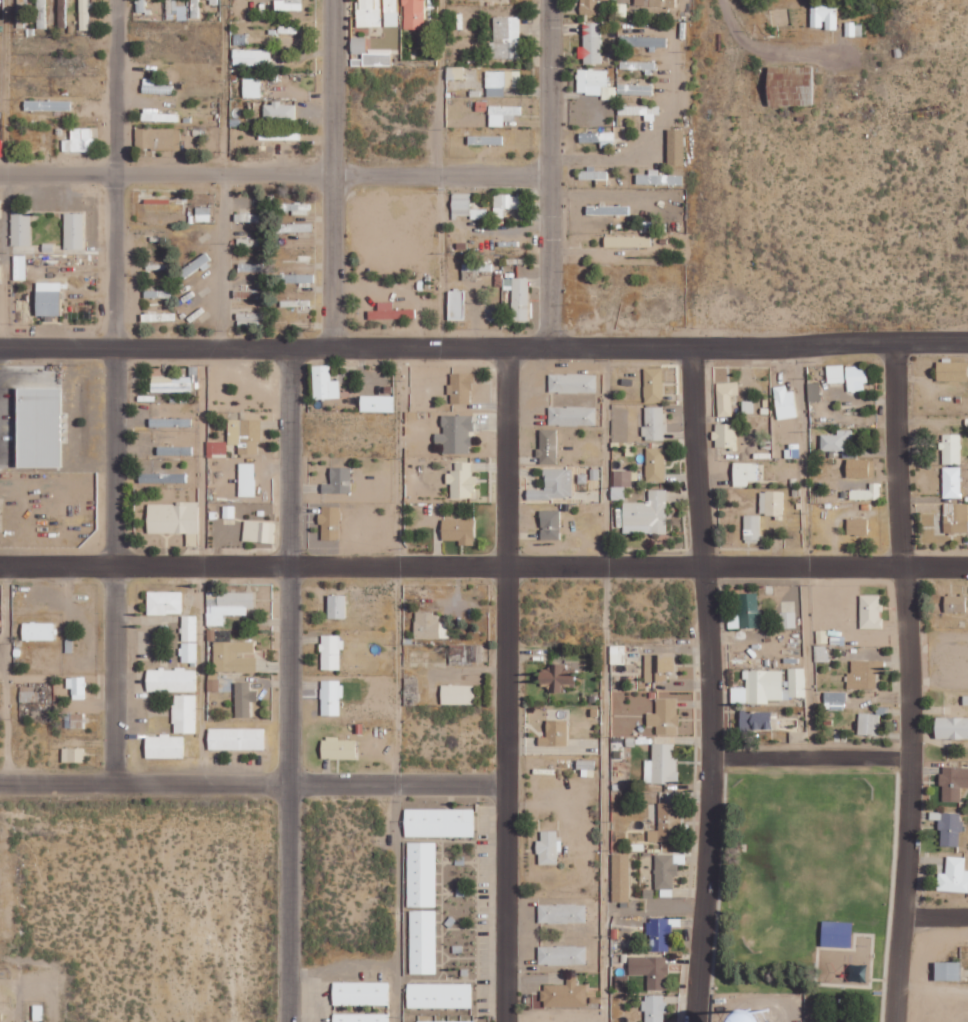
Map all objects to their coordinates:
building: (41, 1)
building: (392, 1)
building: (647, 2)
building: (284, 4)
building: (588, 6)
building: (62, 13)
building: (83, 14)
building: (413, 14)
building: (823, 16)
building: (506, 37)
building: (643, 41)
building: (591, 44)
road: (768, 50)
building: (370, 53)
building: (251, 56)
building: (637, 65)
building: (454, 72)
building: (500, 81)
building: (595, 83)
building: (788, 84)
building: (251, 87)
road: (5, 88)
road: (117, 88)
road: (223, 88)
road: (438, 88)
building: (635, 89)
building: (47, 105)
building: (278, 112)
building: (648, 112)
building: (502, 114)
building: (279, 135)
building: (157, 138)
building: (602, 138)
building: (79, 140)
building: (675, 146)
road: (334, 173)
road: (549, 173)
building: (592, 174)
road: (274, 176)
building: (658, 178)
road: (595, 194)
building: (505, 203)
building: (461, 204)
building: (296, 208)
building: (607, 209)
building: (478, 213)
building: (207, 215)
building: (20, 227)
building: (296, 227)
building: (73, 230)
building: (627, 241)
road: (117, 261)
road: (222, 261)
building: (194, 266)
building: (250, 267)
building: (477, 267)
building: (296, 278)
building: (247, 293)
building: (519, 296)
building: (47, 298)
building: (455, 303)
building: (389, 312)
building: (247, 318)
road: (59, 347)
road: (543, 347)
building: (952, 371)
building: (835, 373)
building: (854, 379)
building: (174, 383)
building: (324, 383)
building: (572, 383)
building: (653, 384)
building: (460, 388)
building: (813, 391)
building: (725, 397)
building: (377, 403)
building: (784, 403)
building: (572, 415)
building: (169, 422)
building: (653, 423)
building: (43, 429)
building: (455, 434)
building: (245, 435)
building: (725, 435)
building: (839, 443)
building: (547, 446)
building: (216, 447)
building: (951, 449)
building: (655, 464)
building: (860, 468)
building: (744, 473)
building: (161, 478)
building: (246, 479)
building: (338, 480)
building: (461, 481)
building: (621, 482)
building: (951, 482)
building: (554, 485)
building: (867, 492)
building: (771, 503)
building: (646, 514)
building: (172, 517)
building: (956, 517)
building: (330, 522)
building: (549, 524)
building: (857, 526)
building: (751, 527)
building: (259, 531)
building: (457, 531)
road: (805, 552)
road: (117, 565)
road: (202, 565)
road: (291, 565)
road: (398, 565)
road: (483, 567)
building: (163, 602)
building: (954, 603)
building: (233, 604)
building: (336, 606)
building: (746, 612)
building: (870, 612)
building: (788, 620)
building: (429, 626)
building: (189, 628)
building: (37, 631)
building: (189, 652)
building: (330, 652)
building: (464, 654)
building: (617, 654)
building: (232, 657)
building: (657, 667)
road: (6, 674)
building: (863, 674)
building: (557, 677)
building: (171, 680)
road: (506, 684)
road: (603, 684)
road: (706, 684)
road: (907, 684)
building: (769, 686)
building: (76, 687)
building: (28, 694)
building: (457, 694)
building: (243, 699)
building: (331, 699)
building: (834, 700)
building: (186, 714)
building: (664, 716)
building: (73, 720)
building: (755, 722)
building: (868, 724)
building: (951, 728)
building: (554, 733)
building: (797, 737)
building: (236, 739)
building: (160, 746)
building: (338, 748)
building: (72, 755)
road: (809, 757)
building: (661, 764)
building: (586, 767)
building: (953, 782)
road: (354, 784)
building: (439, 823)
building: (664, 823)
building: (950, 829)
building: (547, 848)
building: (664, 871)
building: (421, 874)
building: (954, 876)
building: (620, 878)
road: (290, 903)
building: (561, 913)
road: (934, 916)
building: (659, 934)
building: (836, 934)
building: (422, 942)
building: (561, 955)
building: (650, 970)
building: (947, 971)
building: (360, 994)
building: (565, 994)
building: (439, 996)
building: (654, 1008)
building: (383, 1019)
building: (746, 1019)
building: (432, 1021)

